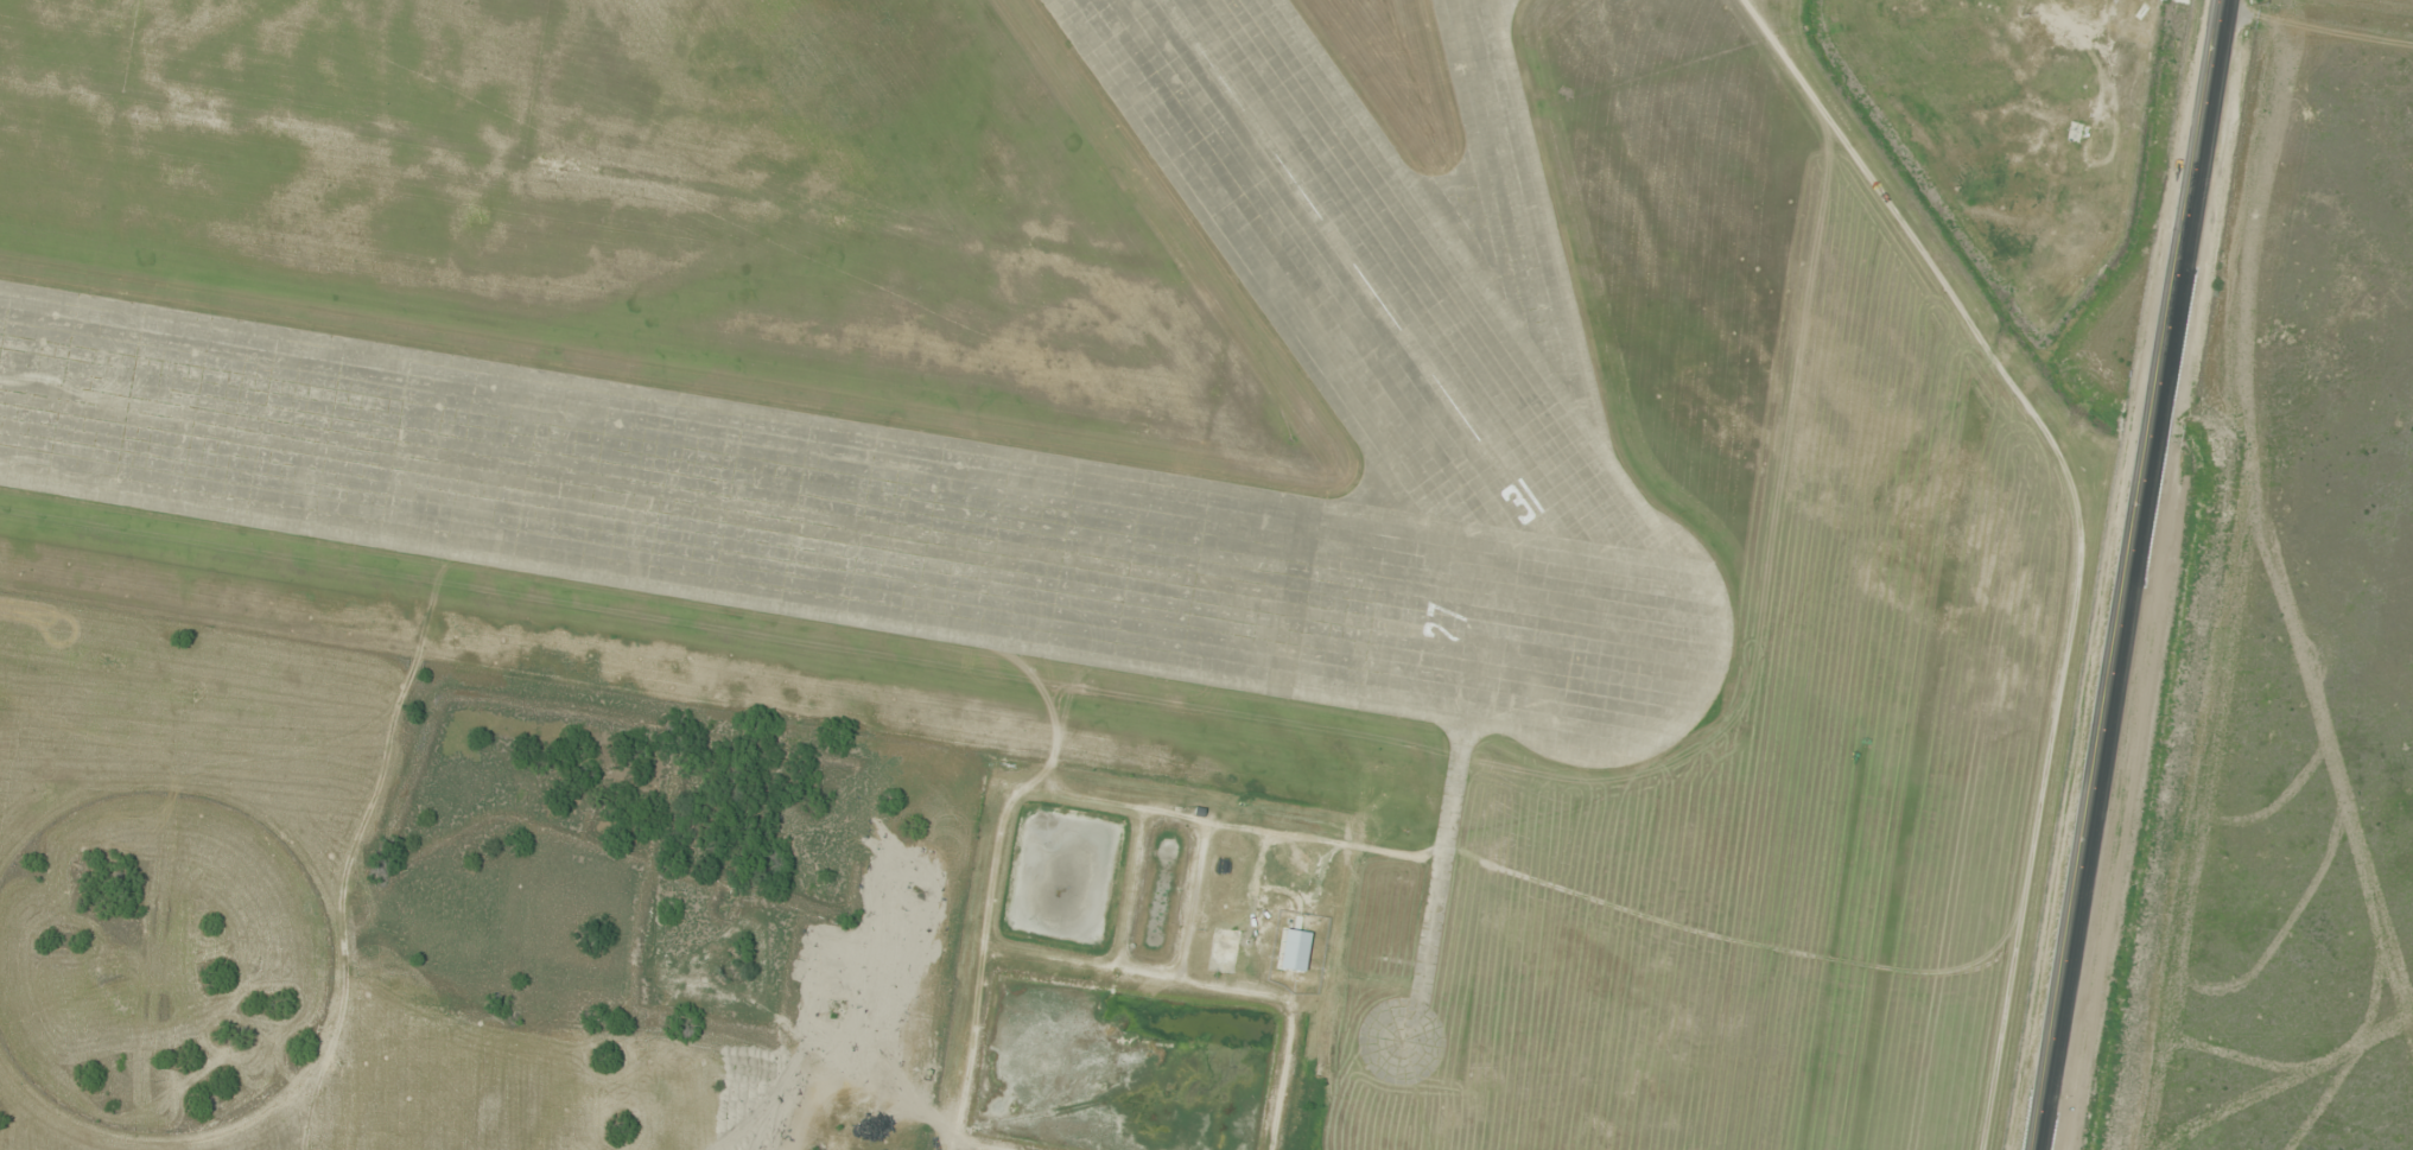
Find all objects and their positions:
road: (2319, 20)
building: (2091, 138)
building: (1346, 203)
airport runway: (1388, 325)
airport taxiway: (1547, 325)
airport: (1193, 449)
airport runway: (808, 517)
road: (2004, 540)
road: (2132, 574)

